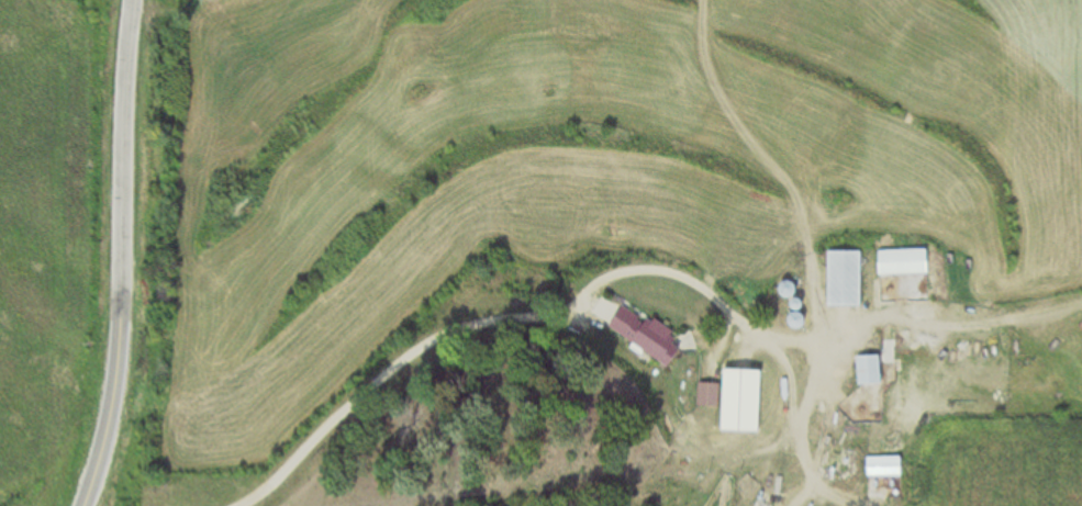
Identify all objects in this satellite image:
road: (122, 255)
building: (908, 261)
building: (850, 278)
road: (490, 319)
building: (649, 335)
building: (875, 369)
building: (711, 394)
road: (810, 403)
building: (844, 438)
building: (889, 464)
building: (762, 503)

